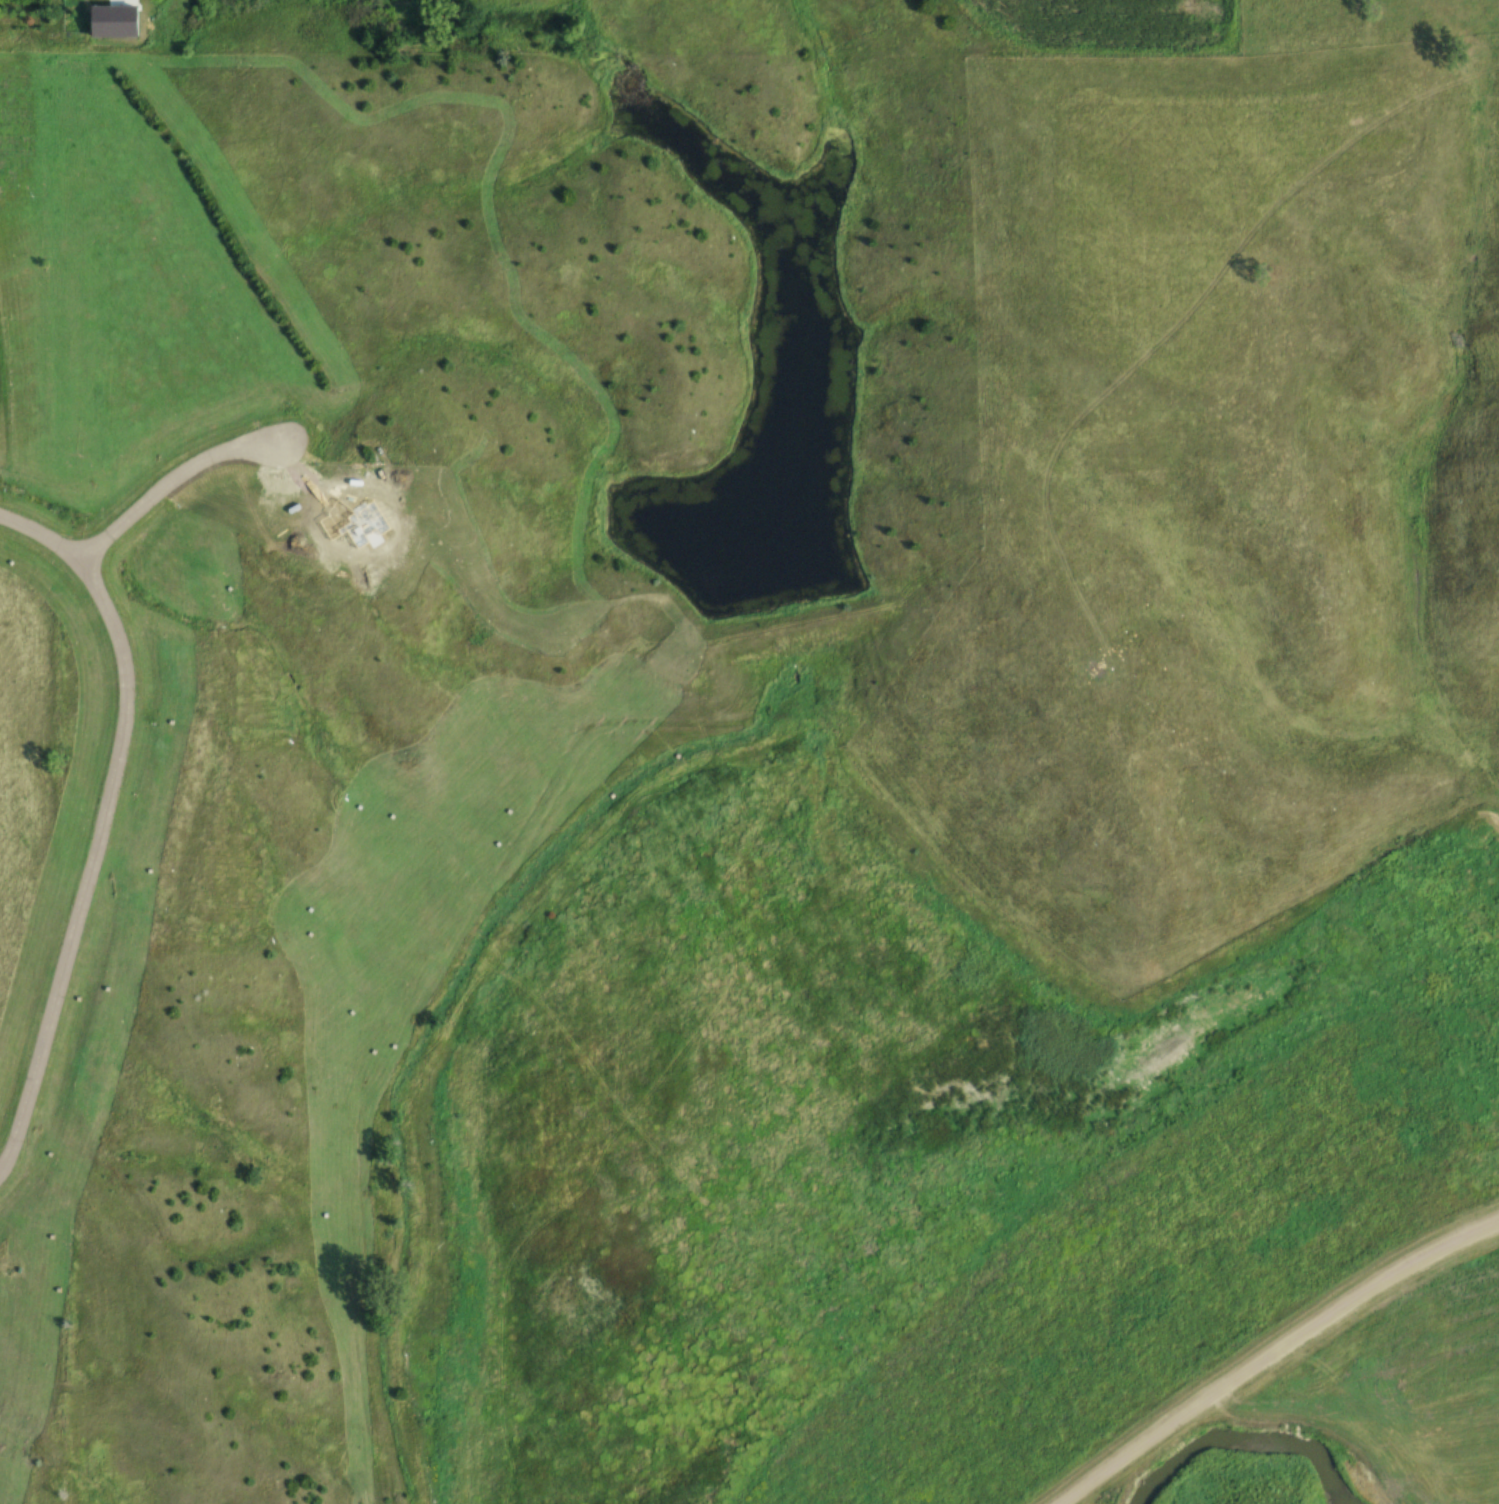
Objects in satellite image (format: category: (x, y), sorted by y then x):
road: (167, 477)
road: (93, 819)
road: (1277, 1355)
river: (1241, 1439)

